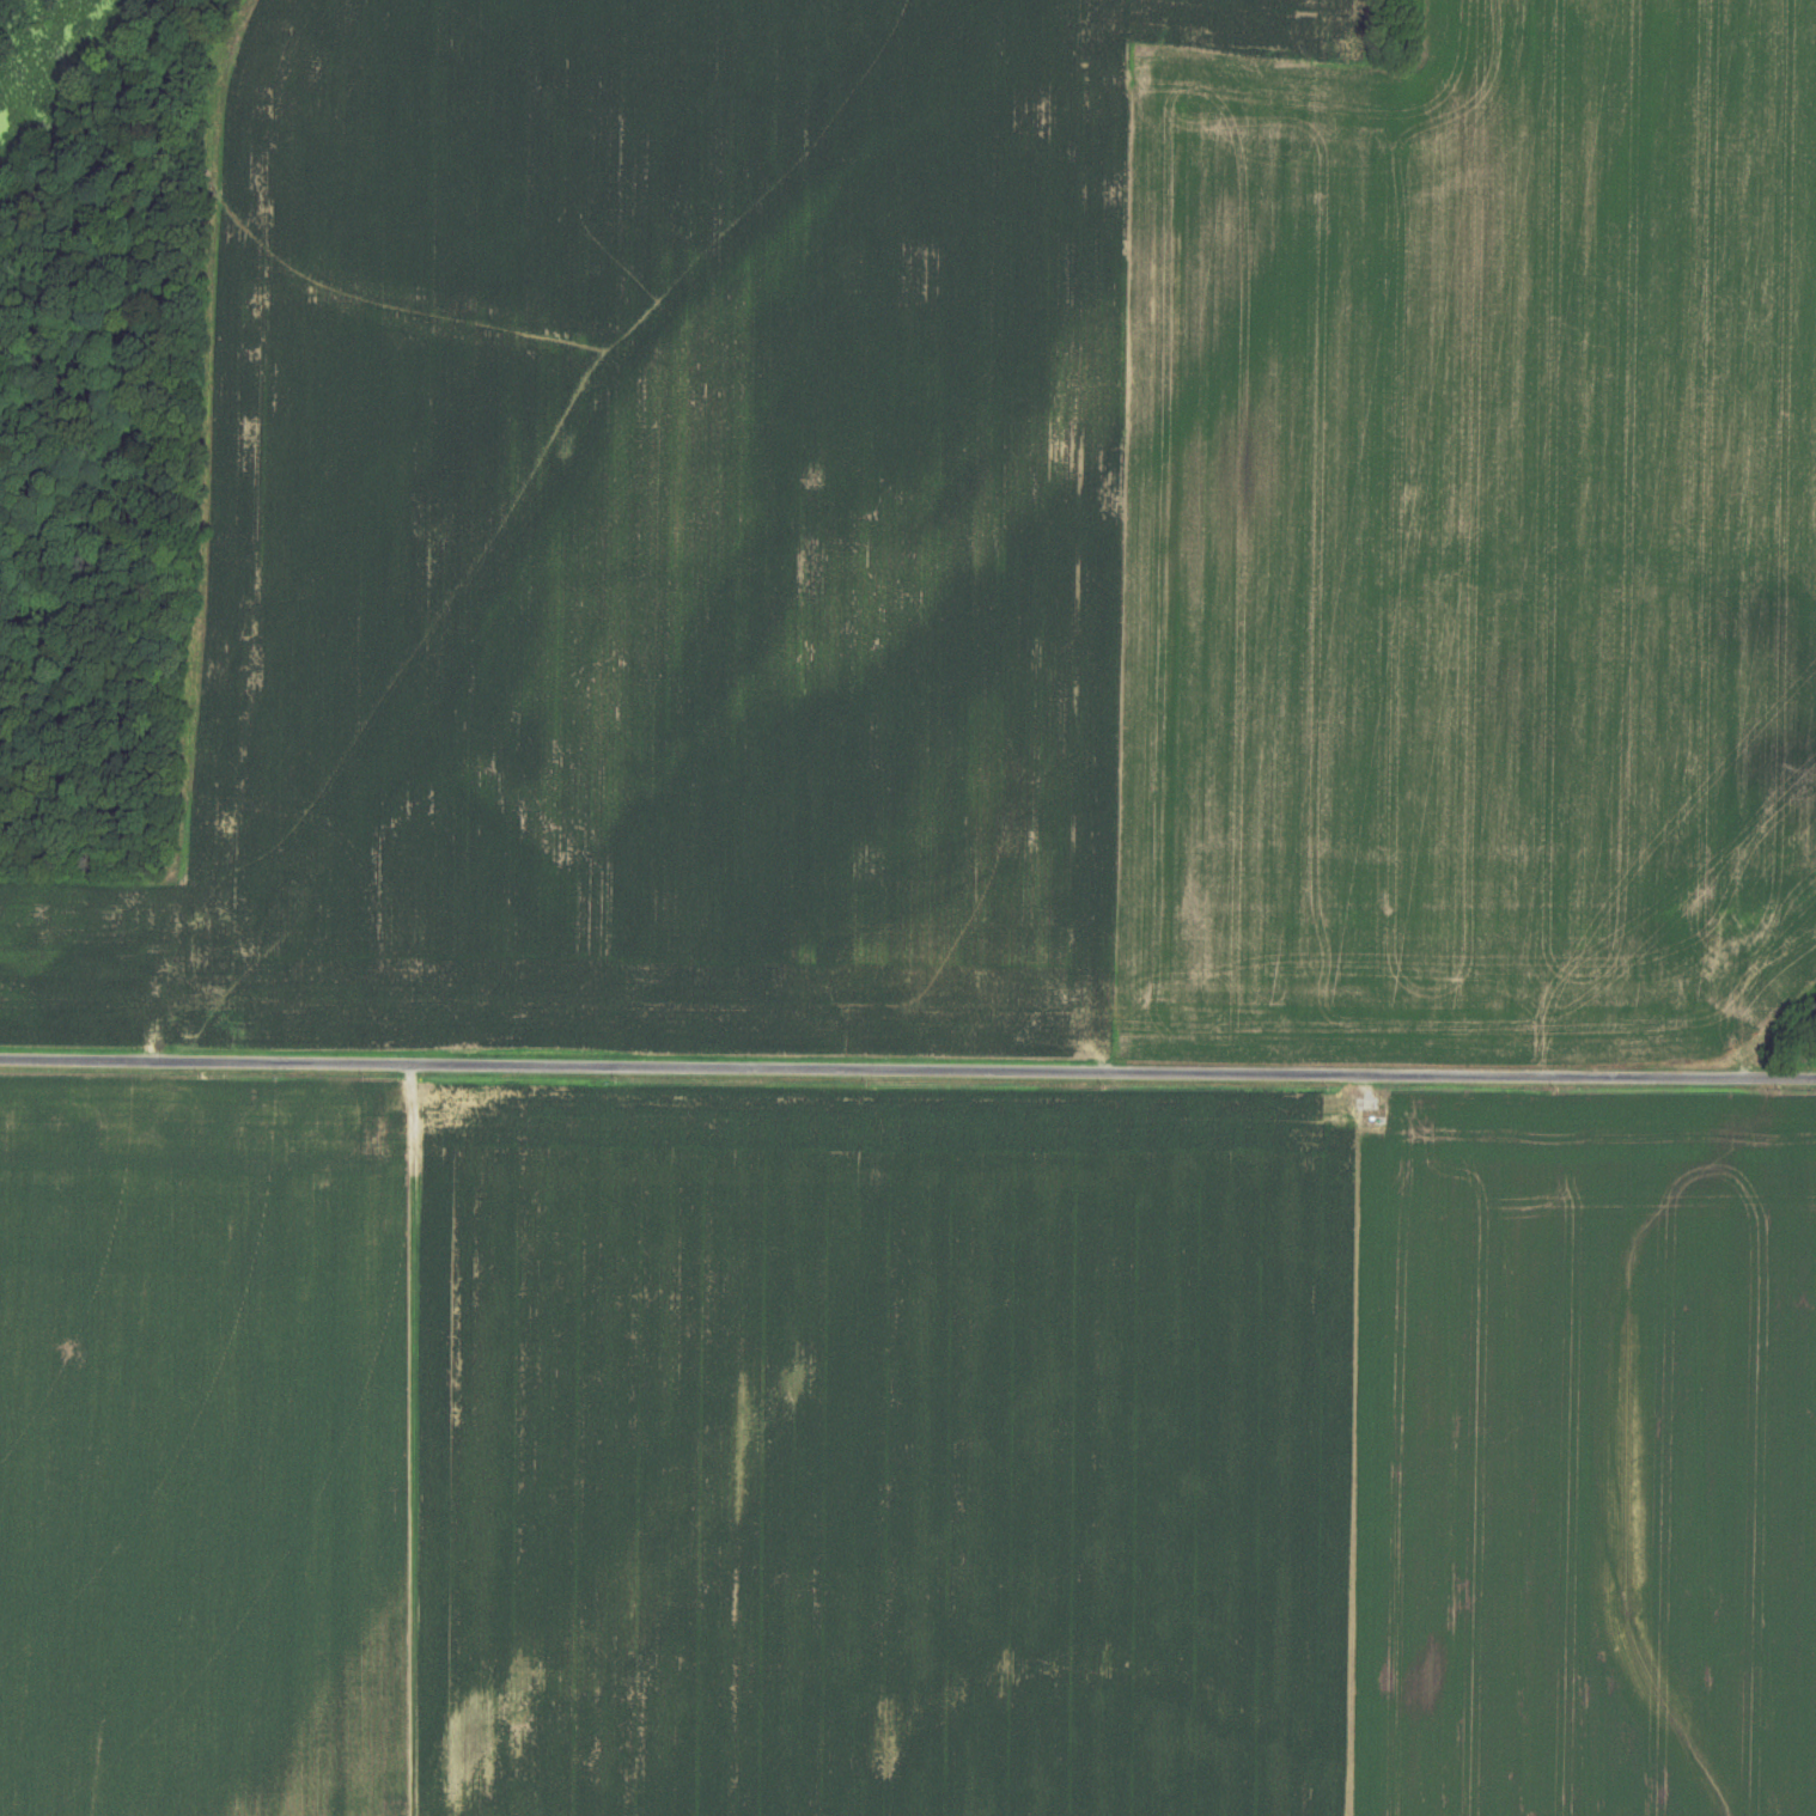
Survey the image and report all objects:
road: (908, 1074)

